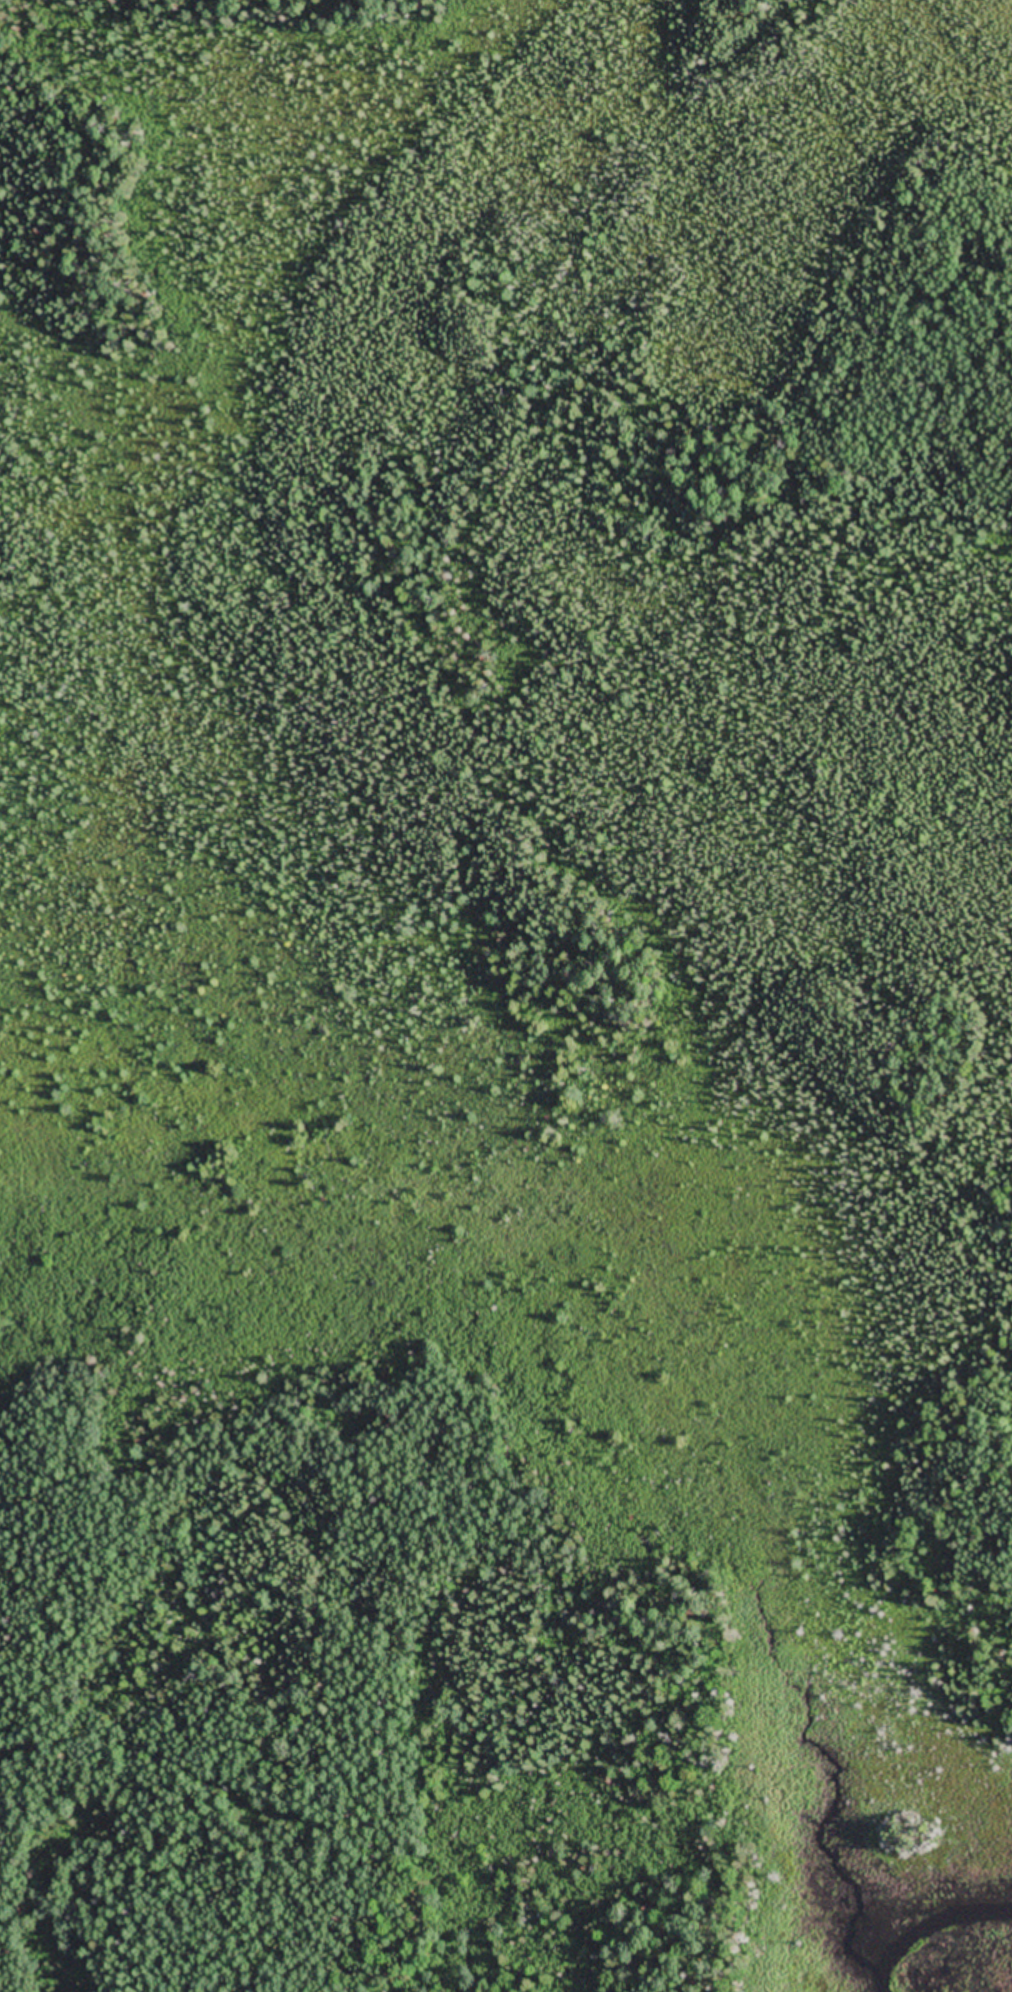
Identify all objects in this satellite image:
road: (163, 1734)

